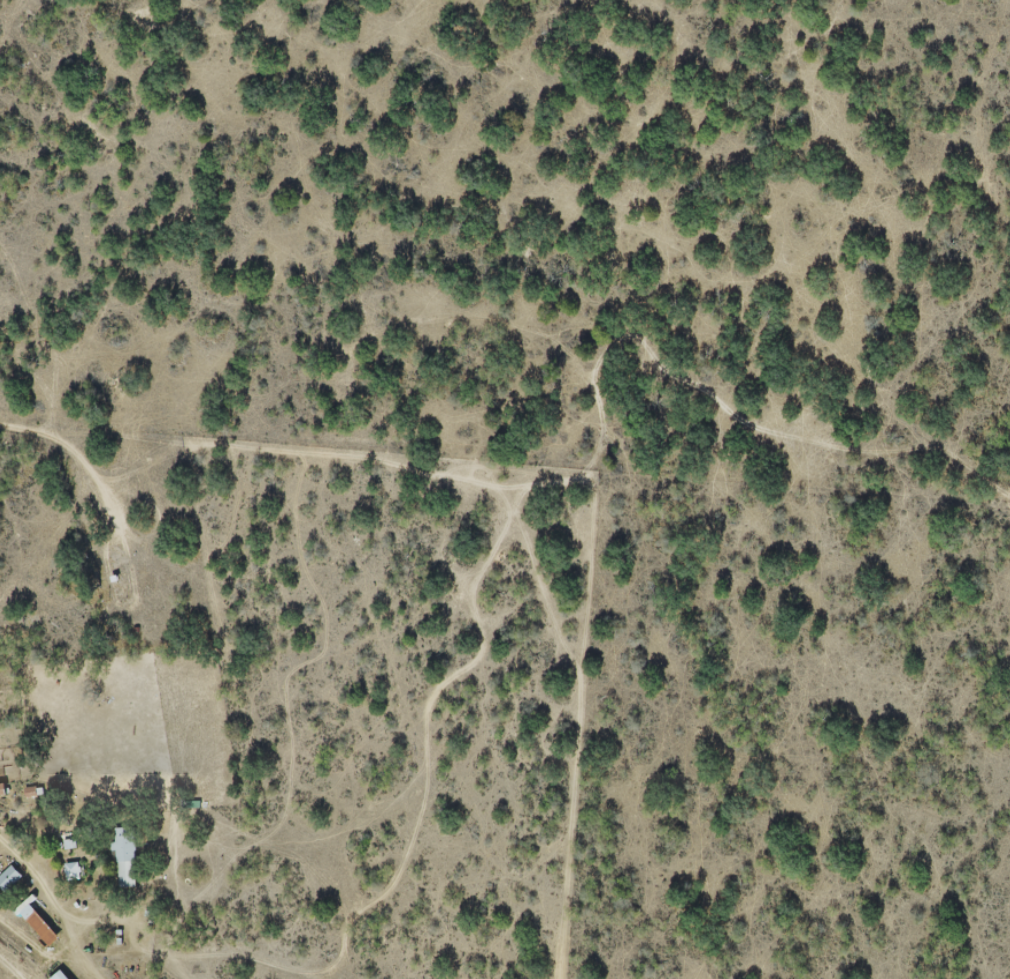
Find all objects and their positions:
road: (74, 455)
building: (122, 571)
building: (2, 790)
building: (126, 857)
building: (74, 871)
building: (10, 879)
road: (54, 905)
building: (38, 923)
road: (36, 948)
building: (60, 975)

